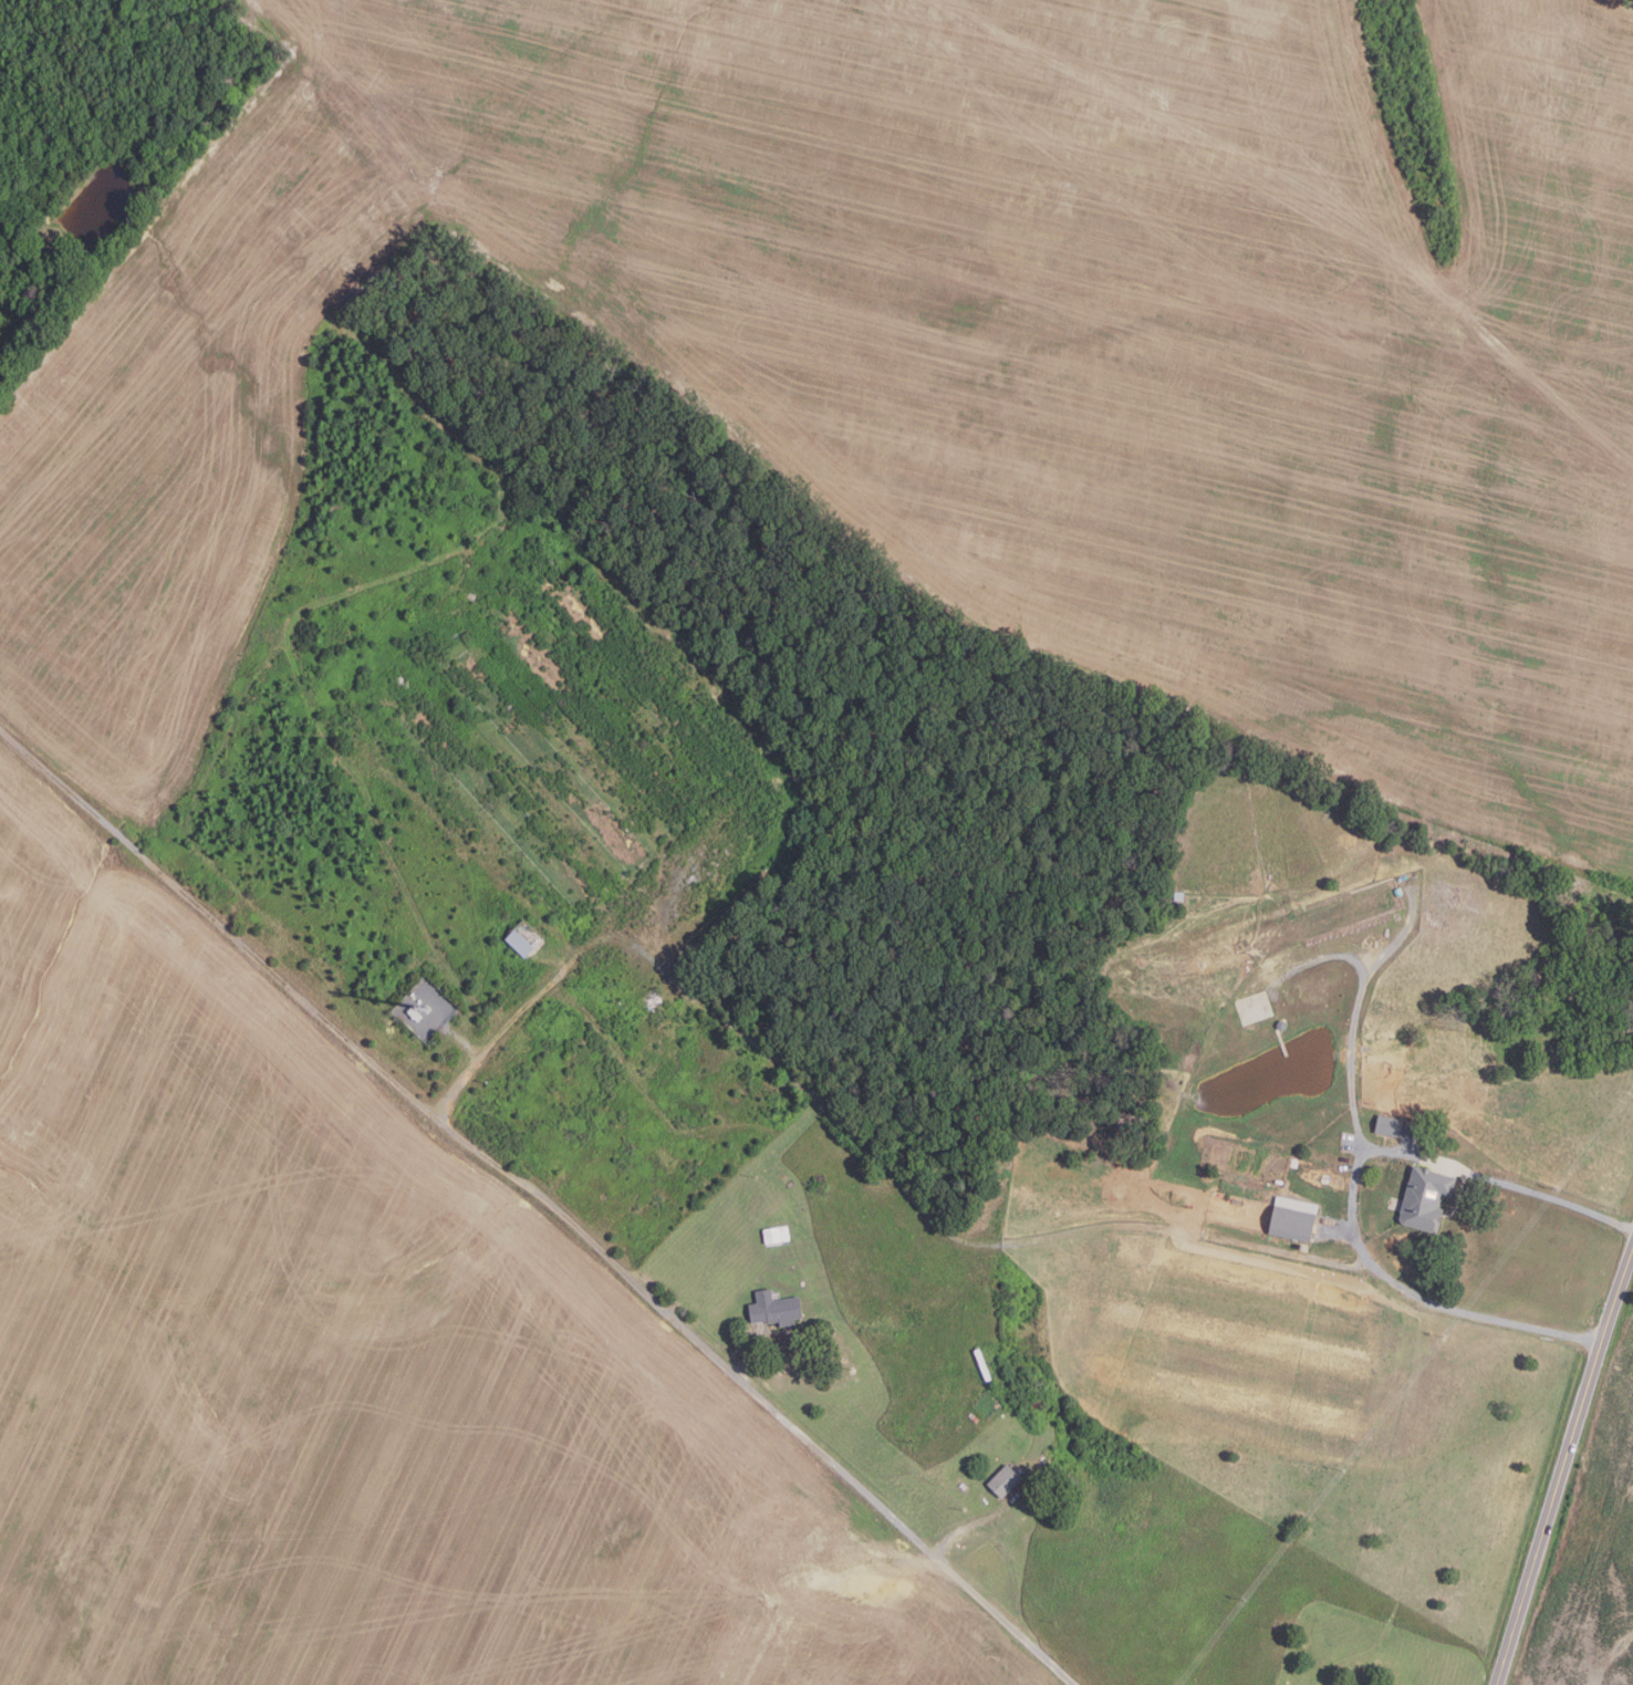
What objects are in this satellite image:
building: (1178, 895)
building: (526, 937)
road: (1359, 998)
building: (1388, 1126)
building: (643, 1127)
road: (847, 1135)
road: (1353, 1195)
building: (1425, 1198)
road: (543, 1199)
building: (1292, 1219)
building: (776, 1234)
building: (774, 1308)
road: (747, 1355)
building: (1038, 1403)
road: (1563, 1471)
building: (1005, 1480)
road: (975, 1525)

